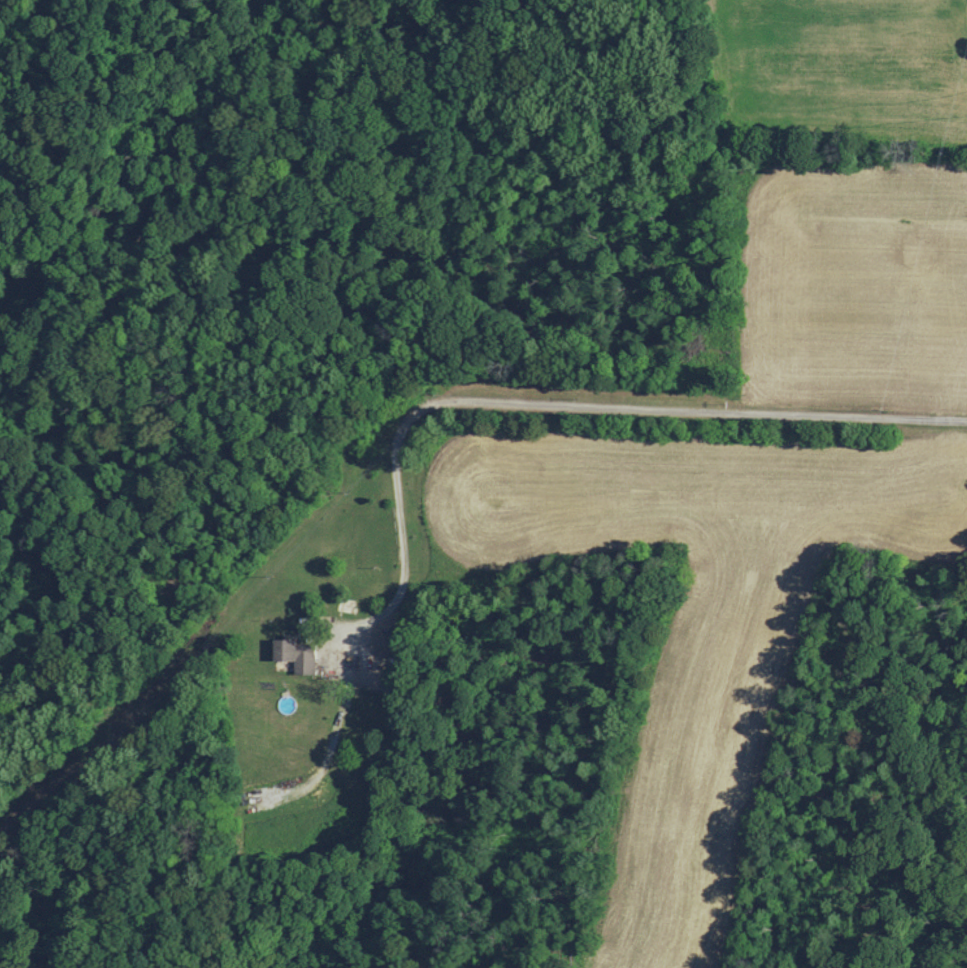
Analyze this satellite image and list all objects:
road: (566, 401)
building: (296, 655)

